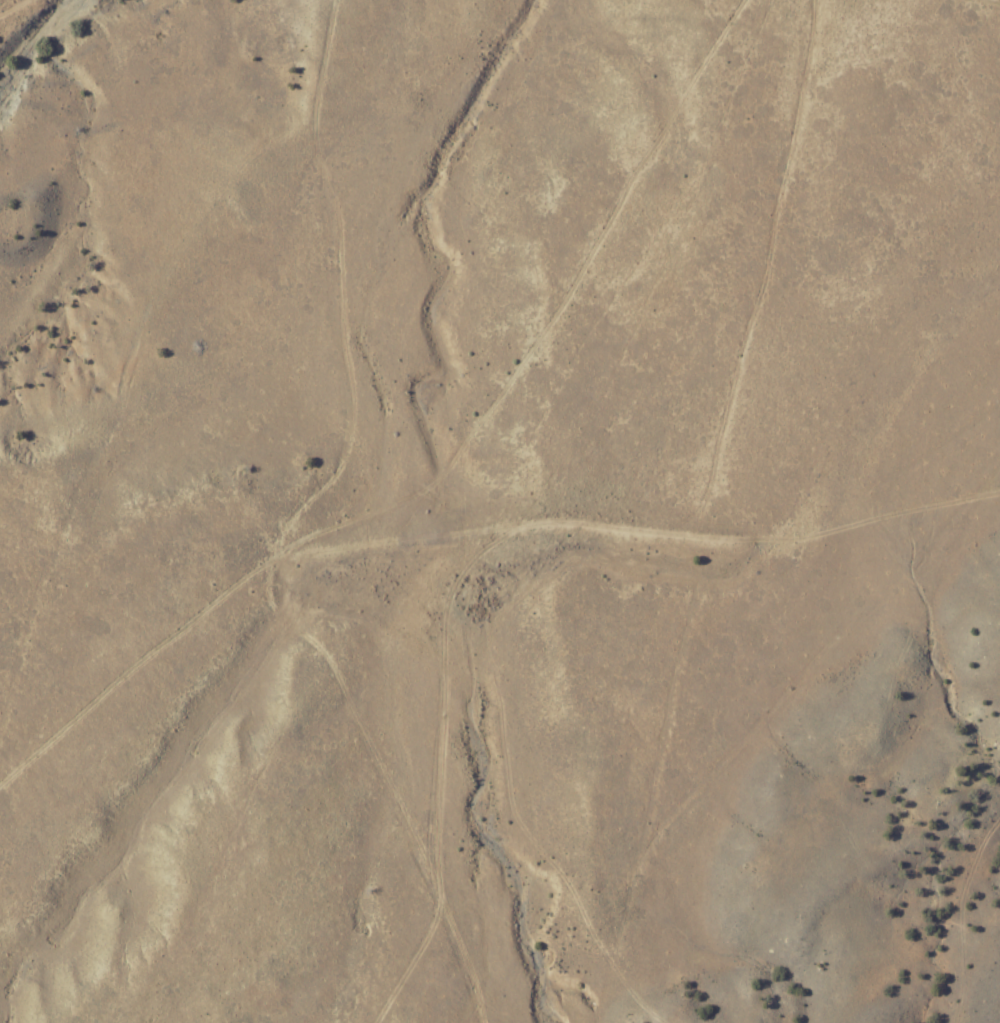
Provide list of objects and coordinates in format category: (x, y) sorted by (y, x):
road: (991, 2)
road: (17, 10)
river: (57, 47)
road: (264, 534)
road: (636, 578)

